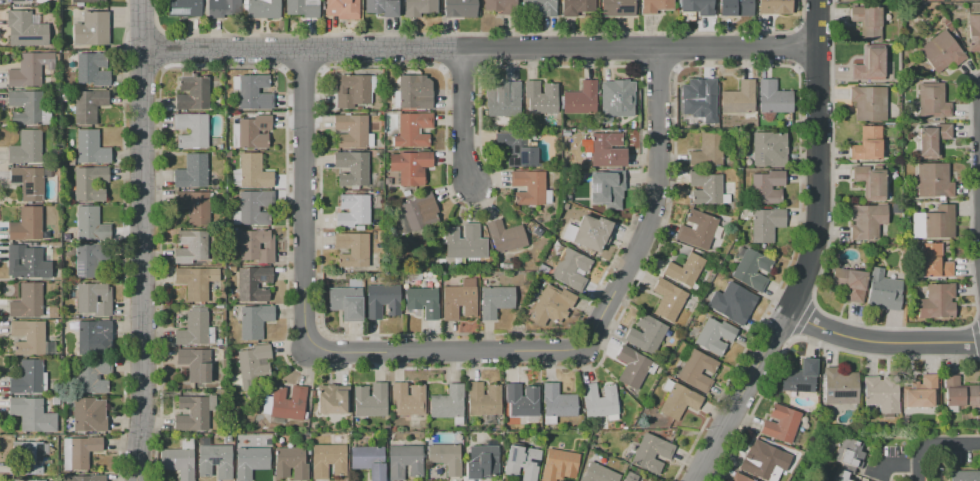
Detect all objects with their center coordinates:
building: (18, 0)
building: (88, 1)
building: (655, 5)
building: (501, 6)
building: (541, 6)
building: (383, 7)
building: (419, 7)
building: (576, 7)
building: (697, 7)
building: (736, 7)
building: (774, 7)
building: (183, 8)
building: (223, 8)
building: (301, 8)
building: (342, 8)
building: (460, 8)
building: (616, 8)
building: (261, 9)
building: (867, 22)
road: (141, 26)
road: (813, 26)
building: (91, 29)
building: (25, 30)
building: (973, 32)
road: (476, 34)
road: (797, 46)
road: (158, 47)
road: (478, 47)
road: (635, 49)
road: (479, 50)
road: (674, 50)
road: (283, 51)
road: (320, 51)
road: (442, 51)
building: (941, 51)
building: (868, 65)
road: (654, 66)
road: (460, 67)
road: (814, 67)
building: (29, 68)
building: (90, 68)
road: (141, 68)
road: (301, 68)
road: (675, 68)
road: (796, 68)
road: (161, 69)
road: (282, 69)
building: (252, 90)
building: (354, 90)
building: (413, 92)
building: (192, 94)
building: (541, 97)
building: (773, 97)
building: (504, 98)
building: (581, 98)
building: (738, 98)
building: (616, 99)
building: (700, 99)
building: (932, 101)
building: (868, 102)
building: (88, 106)
building: (30, 107)
road: (461, 116)
building: (412, 129)
building: (191, 130)
building: (351, 130)
building: (250, 131)
building: (565, 133)
building: (932, 140)
building: (867, 144)
building: (25, 148)
building: (90, 148)
building: (517, 149)
building: (768, 149)
building: (606, 150)
building: (707, 151)
road: (640, 165)
building: (410, 167)
building: (583, 167)
building: (351, 169)
building: (191, 171)
building: (251, 172)
building: (933, 180)
building: (870, 181)
building: (29, 182)
building: (89, 183)
building: (528, 186)
building: (705, 187)
building: (766, 187)
building: (606, 188)
road: (302, 197)
building: (195, 207)
building: (252, 208)
building: (353, 211)
building: (417, 212)
building: (866, 220)
building: (765, 223)
building: (933, 223)
building: (90, 224)
building: (26, 225)
building: (359, 227)
building: (697, 229)
building: (537, 231)
building: (588, 233)
building: (505, 236)
road: (123, 240)
road: (141, 240)
building: (465, 242)
building: (191, 246)
building: (256, 246)
building: (554, 246)
building: (352, 249)
road: (809, 253)
building: (89, 258)
building: (933, 261)
building: (26, 262)
building: (750, 267)
building: (571, 269)
building: (684, 270)
building: (410, 277)
building: (429, 279)
building: (196, 282)
building: (253, 283)
building: (849, 283)
building: (882, 293)
building: (93, 299)
building: (668, 299)
building: (459, 300)
building: (496, 300)
building: (27, 301)
building: (349, 301)
building: (381, 301)
building: (421, 301)
building: (936, 301)
building: (732, 303)
building: (551, 305)
building: (253, 321)
road: (868, 325)
road: (591, 327)
building: (194, 330)
building: (645, 333)
building: (91, 336)
building: (714, 336)
building: (30, 338)
road: (881, 341)
building: (195, 364)
building: (254, 367)
road: (465, 367)
building: (632, 368)
building: (697, 370)
building: (92, 375)
building: (799, 376)
building: (29, 378)
building: (839, 386)
building: (919, 393)
building: (958, 393)
building: (882, 394)
building: (332, 399)
building: (408, 399)
building: (483, 399)
building: (370, 400)
building: (522, 400)
building: (677, 400)
building: (557, 401)
building: (599, 402)
building: (285, 403)
building: (447, 403)
building: (195, 414)
building: (32, 415)
building: (88, 415)
building: (781, 423)
road: (939, 447)
building: (79, 451)
building: (651, 453)
building: (27, 458)
building: (446, 458)
building: (848, 458)
building: (179, 459)
building: (214, 460)
building: (328, 460)
building: (250, 461)
building: (369, 461)
building: (763, 461)
building: (405, 462)
building: (481, 462)
building: (522, 462)
building: (290, 463)
building: (559, 465)
building: (598, 473)
building: (965, 475)
building: (630, 477)
building: (84, 478)
building: (740, 478)
building: (27, 480)
building: (867, 480)

